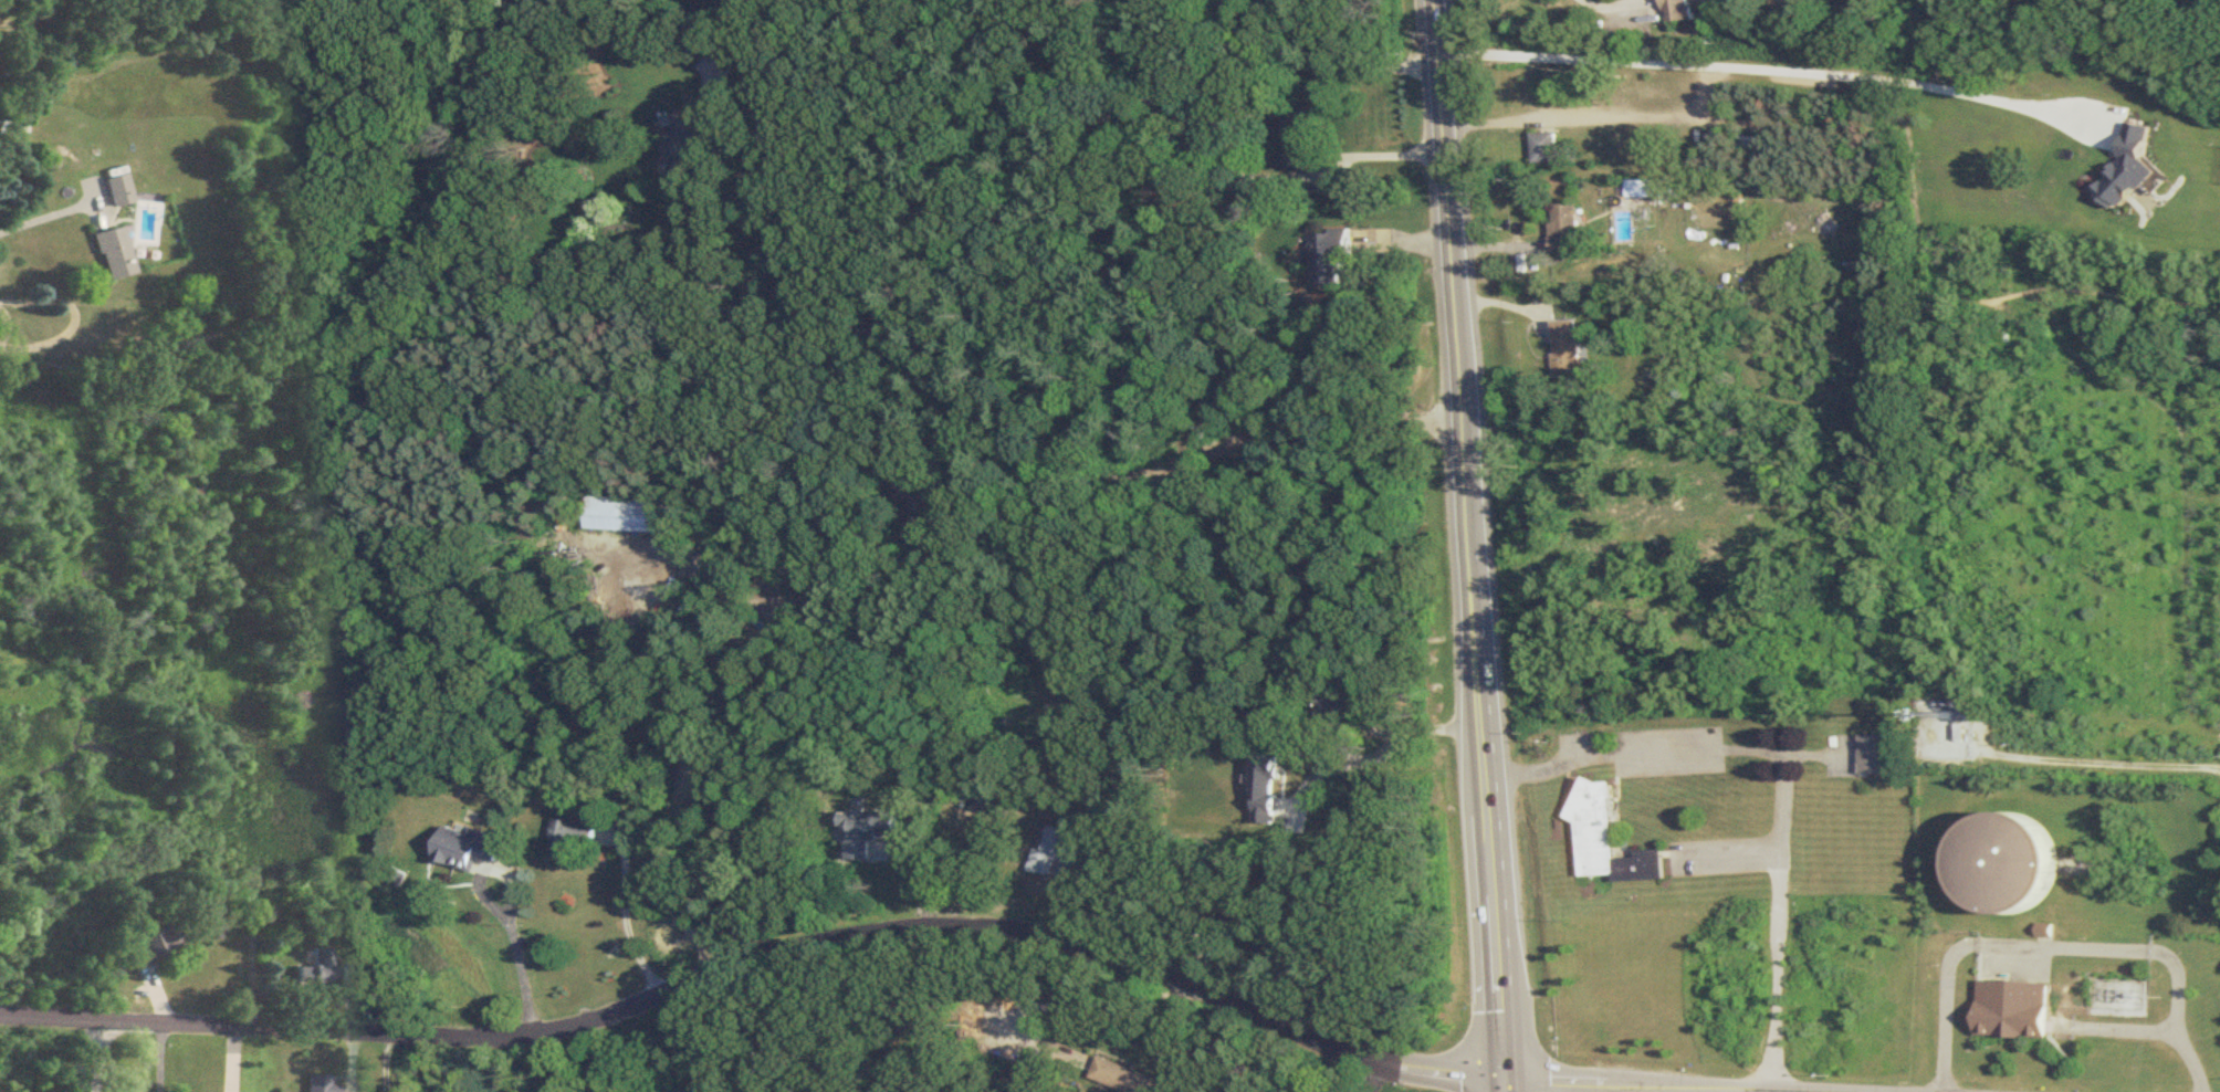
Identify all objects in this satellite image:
building: (796, 0)
building: (1253, 1)
road: (1612, 4)
building: (1679, 12)
road: (1077, 43)
road: (1761, 66)
building: (1601, 88)
road: (1530, 117)
building: (2178, 122)
building: (1302, 128)
building: (698, 141)
building: (2134, 143)
building: (1748, 145)
building: (1543, 148)
road: (1383, 154)
building: (1634, 189)
building: (115, 191)
road: (40, 222)
building: (1563, 229)
building: (108, 255)
building: (1567, 348)
road: (1224, 444)
building: (919, 495)
building: (630, 517)
road: (1469, 546)
building: (1342, 707)
building: (1875, 755)
road: (1380, 758)
road: (2107, 758)
road: (1787, 773)
building: (871, 830)
building: (574, 837)
building: (1610, 839)
building: (470, 848)
building: (1057, 852)
road: (1731, 854)
building: (2008, 862)
building: (1216, 915)
road: (629, 920)
road: (877, 930)
building: (1284, 943)
building: (149, 947)
road: (2066, 948)
building: (312, 968)
building: (347, 972)
road: (525, 972)
road: (1080, 1005)
building: (2015, 1009)
road: (55, 1054)
road: (157, 1056)
road: (391, 1061)
building: (1123, 1075)
traffic signals: (1506, 1083)
building: (316, 1084)

